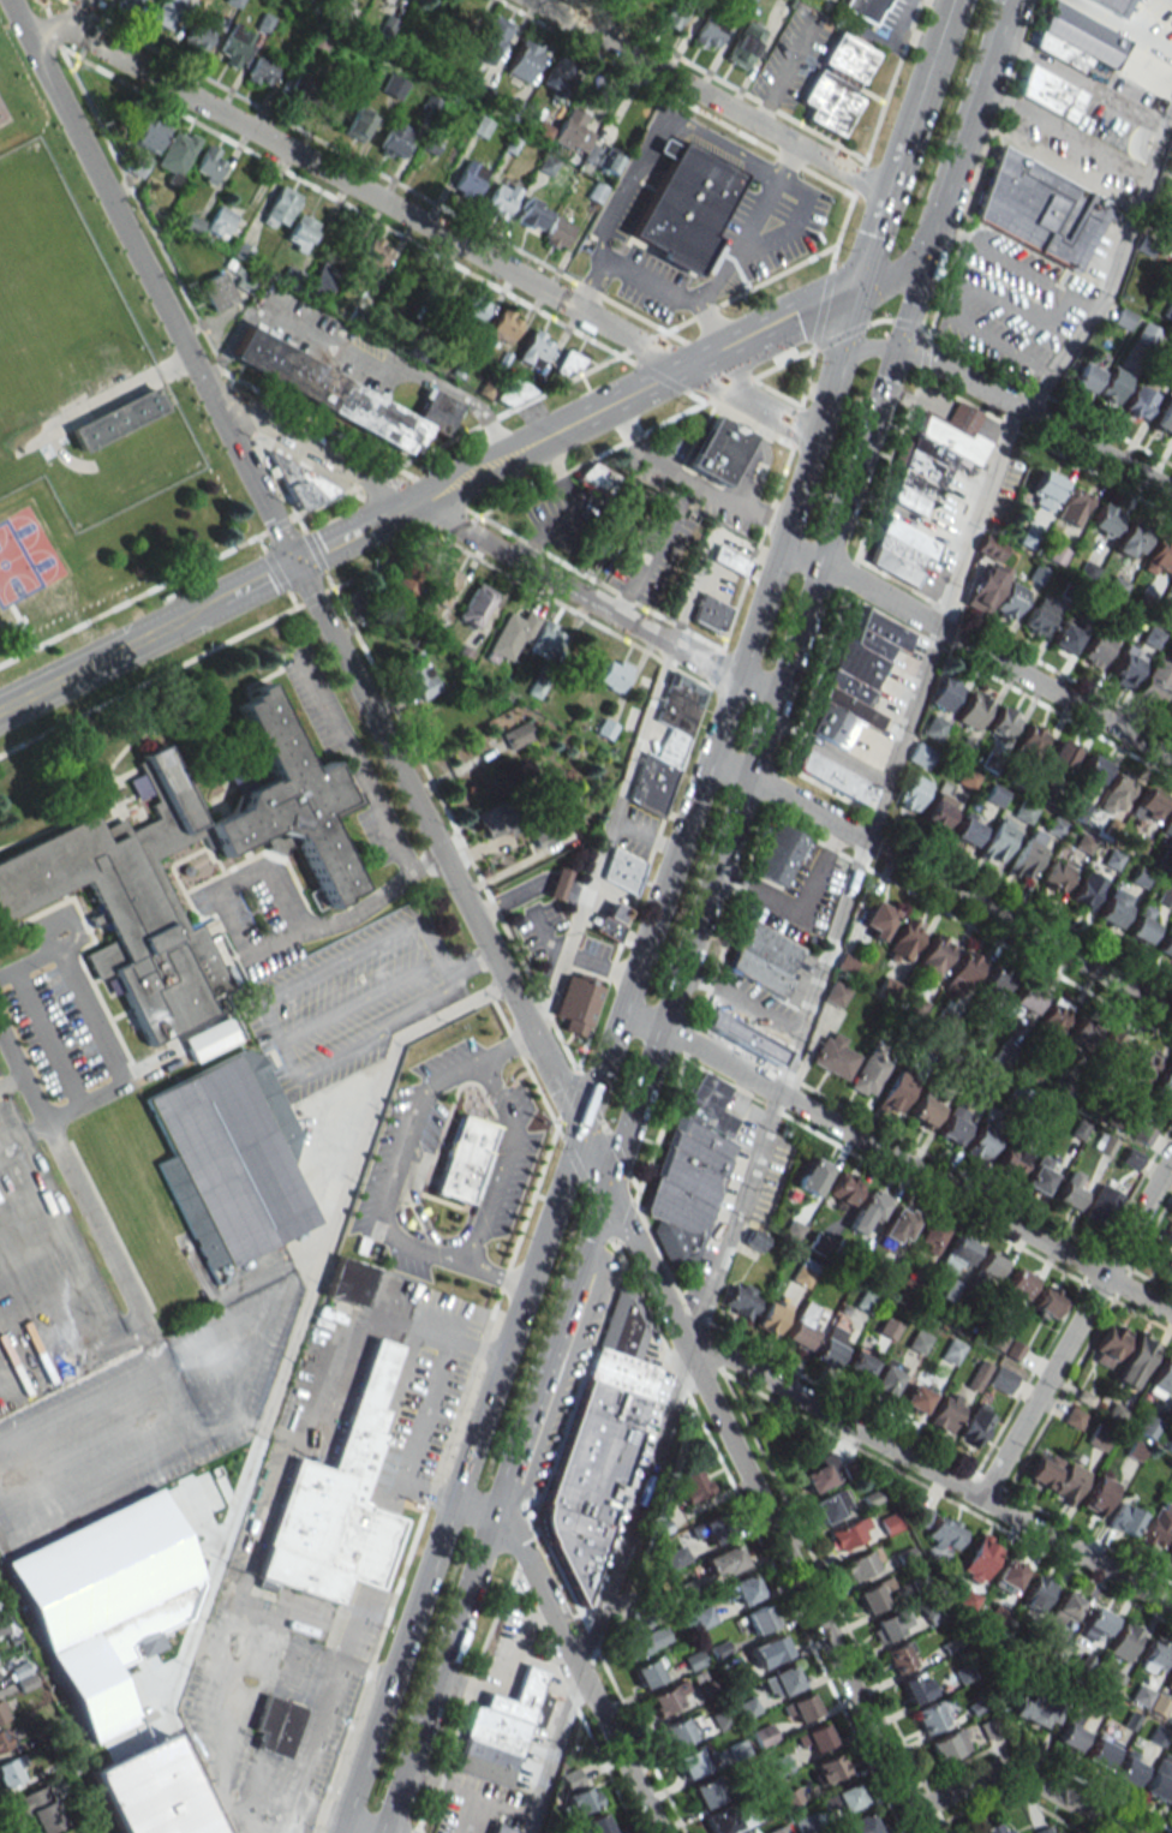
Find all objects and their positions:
building: (748, 0)
building: (128, 4)
building: (1114, 5)
building: (861, 8)
building: (166, 12)
building: (671, 13)
road: (82, 17)
building: (444, 19)
road: (1118, 26)
building: (199, 31)
building: (706, 34)
building: (490, 40)
building: (1078, 41)
building: (743, 43)
building: (235, 46)
building: (524, 60)
building: (261, 70)
building: (556, 77)
building: (835, 82)
road: (1082, 83)
building: (393, 85)
building: (301, 88)
building: (1051, 96)
road: (708, 97)
road: (920, 97)
building: (358, 123)
road: (965, 130)
building: (540, 131)
building: (572, 131)
road: (1065, 133)
building: (148, 135)
building: (393, 138)
building: (177, 153)
building: (208, 165)
building: (467, 179)
building: (500, 198)
building: (683, 205)
building: (280, 207)
building: (1039, 209)
building: (531, 215)
building: (220, 221)
road: (424, 226)
building: (1166, 231)
building: (299, 232)
building: (557, 232)
road: (873, 243)
road: (739, 247)
building: (372, 255)
traffic signals: (921, 262)
road: (1015, 267)
road: (629, 273)
building: (291, 276)
road: (890, 276)
building: (322, 279)
building: (216, 291)
traffic signals: (859, 291)
road: (955, 295)
building: (471, 310)
road: (790, 321)
building: (503, 326)
building: (1147, 335)
building: (534, 348)
road: (855, 348)
road: (883, 348)
building: (1168, 348)
building: (569, 363)
road: (393, 364)
building: (1087, 376)
building: (1113, 386)
building: (342, 394)
building: (1138, 401)
park: (80, 416)
building: (1164, 416)
road: (1035, 417)
building: (116, 424)
road: (558, 430)
building: (714, 449)
building: (935, 454)
road: (687, 480)
building: (298, 482)
building: (1046, 490)
building: (1072, 506)
road: (909, 515)
building: (1104, 519)
road: (345, 537)
building: (1130, 539)
road: (492, 545)
road: (650, 545)
building: (991, 547)
park: (29, 549)
building: (901, 551)
building: (1159, 556)
building: (728, 560)
traffic signals: (293, 563)
building: (408, 577)
road: (300, 578)
road: (258, 580)
building: (443, 585)
building: (986, 586)
building: (1170, 587)
building: (1010, 599)
building: (476, 604)
building: (708, 613)
building: (1040, 615)
building: (513, 635)
building: (1065, 637)
building: (1152, 637)
building: (546, 639)
road: (977, 647)
building: (1096, 649)
road: (110, 653)
building: (1125, 665)
building: (419, 675)
building: (612, 675)
building: (856, 679)
building: (1156, 681)
building: (945, 693)
building: (562, 695)
building: (677, 703)
building: (1170, 704)
building: (974, 710)
road: (723, 714)
building: (439, 717)
building: (1004, 722)
building: (934, 727)
building: (516, 735)
building: (1032, 740)
building: (669, 747)
road: (829, 750)
road: (635, 751)
building: (920, 754)
building: (1062, 757)
building: (1093, 770)
building: (832, 776)
building: (650, 783)
building: (1119, 786)
building: (911, 793)
building: (1149, 804)
building: (939, 810)
building: (490, 820)
building: (1167, 826)
building: (968, 829)
building: (545, 831)
building: (998, 840)
building: (779, 854)
building: (1025, 858)
building: (621, 870)
building: (1056, 876)
building: (78, 878)
building: (557, 883)
road: (941, 883)
building: (1086, 889)
building: (1113, 907)
road: (803, 910)
parking lot: (256, 914)
building: (878, 920)
building: (609, 921)
building: (904, 941)
building: (1165, 944)
road: (255, 949)
building: (935, 956)
building: (764, 957)
road: (825, 960)
road: (340, 962)
road: (467, 963)
road: (439, 968)
building: (963, 973)
building: (994, 983)
building: (836, 995)
parking lot: (347, 998)
road: (357, 999)
building: (574, 1002)
road: (743, 1002)
building: (1022, 1002)
building: (1053, 1017)
parking lot: (65, 1019)
road: (630, 1019)
road: (101, 1026)
road: (363, 1032)
building: (1082, 1032)
building: (746, 1038)
building: (209, 1039)
road: (507, 1045)
road: (654, 1047)
building: (1113, 1047)
building: (835, 1056)
building: (1138, 1070)
building: (865, 1076)
building: (1164, 1086)
building: (895, 1093)
building: (926, 1109)
building: (953, 1124)
building: (1143, 1134)
traffic signals: (582, 1135)
building: (1104, 1142)
building: (981, 1144)
building: (229, 1156)
building: (466, 1156)
building: (1131, 1158)
road: (498, 1160)
building: (1010, 1160)
parking lot: (447, 1164)
road: (907, 1165)
building: (690, 1171)
building: (1040, 1175)
building: (813, 1176)
road: (72, 1177)
traffic signals: (606, 1184)
building: (844, 1188)
building: (1069, 1190)
road: (383, 1200)
building: (1101, 1204)
building: (867, 1212)
building: (898, 1225)
building: (927, 1237)
building: (755, 1240)
building: (820, 1243)
building: (1164, 1249)
building: (957, 1256)
building: (989, 1265)
building: (805, 1272)
building: (348, 1282)
building: (1015, 1288)
building: (741, 1300)
building: (1046, 1302)
building: (770, 1315)
building: (802, 1326)
road: (1075, 1326)
building: (1107, 1345)
building: (831, 1347)
building: (952, 1351)
building: (1134, 1360)
building: (859, 1365)
parking lot: (103, 1367)
building: (977, 1375)
building: (886, 1378)
building: (1161, 1379)
road: (276, 1380)
building: (1000, 1380)
building: (916, 1397)
building: (946, 1411)
building: (1074, 1417)
building: (975, 1423)
building: (1147, 1426)
building: (1099, 1437)
building: (591, 1468)
building: (1042, 1469)
building: (819, 1473)
road: (933, 1473)
building: (1068, 1482)
road: (460, 1483)
building: (690, 1483)
road: (759, 1493)
building: (1096, 1495)
building: (339, 1501)
building: (831, 1506)
building: (1124, 1518)
building: (1156, 1525)
building: (716, 1527)
building: (849, 1534)
building: (943, 1534)
building: (1168, 1553)
building: (677, 1557)
building: (980, 1558)
building: (724, 1560)
building: (860, 1565)
building: (100, 1571)
building: (1007, 1575)
building: (742, 1590)
building: (1035, 1593)
building: (873, 1595)
building: (1065, 1607)
building: (282, 1619)
building: (760, 1619)
road: (544, 1624)
building: (889, 1625)
building: (1096, 1625)
building: (645, 1640)
building: (1124, 1641)
building: (775, 1648)
road: (573, 1652)
building: (899, 1658)
building: (1153, 1658)
building: (648, 1672)
building: (782, 1680)
building: (1168, 1683)
building: (915, 1686)
building: (90, 1689)
road: (575, 1697)
building: (666, 1697)
road: (466, 1698)
building: (1149, 1700)
building: (800, 1708)
building: (2, 1712)
building: (1036, 1712)
building: (935, 1713)
building: (722, 1718)
building: (276, 1725)
building: (501, 1730)
building: (681, 1730)
building: (1071, 1732)
building: (764, 1735)
building: (6, 1737)
building: (815, 1738)
building: (947, 1747)
building: (1100, 1751)
building: (692, 1761)
building: (830, 1767)
building: (1129, 1768)
building: (13, 1771)
building: (1159, 1779)
road: (1018, 1780)
building: (153, 1791)
road: (468, 1791)
building: (578, 1792)
building: (706, 1793)
building: (847, 1797)
building: (1171, 1807)
building: (37, 1810)
road: (470, 1814)
building: (720, 1820)
building: (596, 1825)
building: (856, 1825)
road: (355, 1827)
building: (994, 1827)
road: (420, 1828)
building: (501, 1829)
building: (779, 1829)
building: (1042, 1831)
road: (413, 1832)

